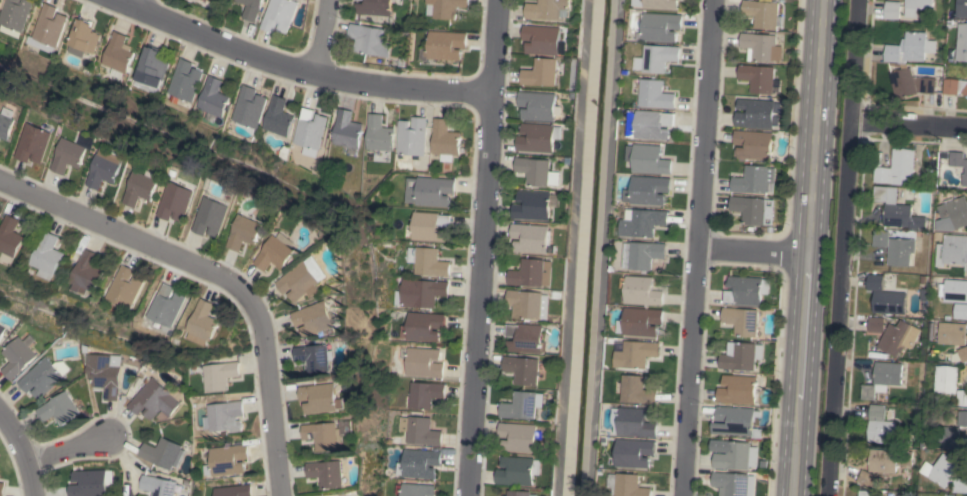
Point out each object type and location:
building: (208, 0)
building: (215, 0)
road: (141, 3)
building: (657, 3)
building: (375, 7)
building: (915, 7)
building: (251, 8)
building: (445, 8)
building: (961, 8)
building: (548, 9)
building: (892, 9)
building: (763, 14)
building: (279, 15)
building: (13, 16)
building: (661, 26)
building: (46, 29)
road: (325, 36)
building: (82, 38)
building: (542, 39)
building: (370, 40)
building: (961, 42)
building: (445, 45)
building: (761, 46)
building: (116, 55)
building: (656, 58)
road: (301, 65)
building: (898, 65)
building: (150, 67)
building: (541, 73)
building: (757, 78)
building: (183, 80)
building: (955, 86)
building: (655, 94)
building: (966, 96)
building: (212, 99)
building: (538, 105)
building: (248, 107)
building: (755, 113)
building: (277, 117)
building: (8, 122)
road: (909, 124)
building: (650, 125)
building: (309, 131)
building: (347, 132)
building: (379, 134)
building: (412, 136)
building: (539, 137)
building: (445, 138)
building: (36, 143)
building: (753, 144)
building: (71, 155)
building: (647, 159)
building: (959, 164)
building: (107, 168)
building: (896, 168)
building: (538, 171)
building: (754, 179)
building: (142, 188)
building: (648, 190)
building: (428, 191)
building: (178, 201)
building: (533, 205)
building: (753, 209)
building: (897, 209)
building: (952, 214)
building: (214, 215)
building: (643, 222)
building: (429, 226)
building: (246, 232)
building: (13, 236)
building: (531, 238)
road: (480, 247)
road: (694, 247)
building: (894, 247)
road: (808, 248)
road: (842, 248)
road: (751, 250)
building: (952, 251)
building: (275, 253)
building: (646, 254)
building: (51, 256)
building: (429, 262)
building: (90, 273)
building: (532, 273)
road: (218, 276)
building: (302, 282)
building: (128, 287)
building: (641, 290)
building: (746, 290)
building: (954, 290)
building: (419, 293)
building: (885, 296)
building: (529, 303)
building: (169, 305)
building: (961, 311)
building: (316, 318)
building: (742, 320)
building: (641, 322)
building: (204, 323)
building: (876, 325)
building: (423, 326)
building: (1, 330)
building: (953, 333)
building: (897, 337)
building: (526, 338)
building: (635, 353)
building: (963, 353)
building: (741, 355)
building: (17, 356)
building: (317, 357)
building: (423, 362)
building: (524, 370)
building: (103, 373)
building: (219, 375)
building: (43, 376)
building: (882, 378)
building: (946, 379)
building: (737, 389)
building: (638, 390)
building: (424, 394)
building: (322, 397)
building: (962, 397)
building: (153, 399)
building: (523, 405)
building: (58, 408)
building: (224, 416)
building: (962, 418)
building: (633, 422)
building: (735, 422)
building: (879, 425)
building: (419, 430)
building: (323, 435)
building: (519, 436)
building: (946, 437)
road: (66, 448)
building: (634, 452)
building: (163, 453)
road: (20, 454)
building: (733, 454)
building: (226, 460)
building: (418, 463)
building: (877, 467)
building: (941, 470)
building: (519, 471)
building: (327, 473)
building: (88, 483)
building: (730, 483)
building: (159, 485)
building: (630, 485)
building: (960, 485)
building: (2, 488)
building: (415, 489)
building: (233, 490)
building: (519, 493)
building: (865, 493)
building: (892, 493)

